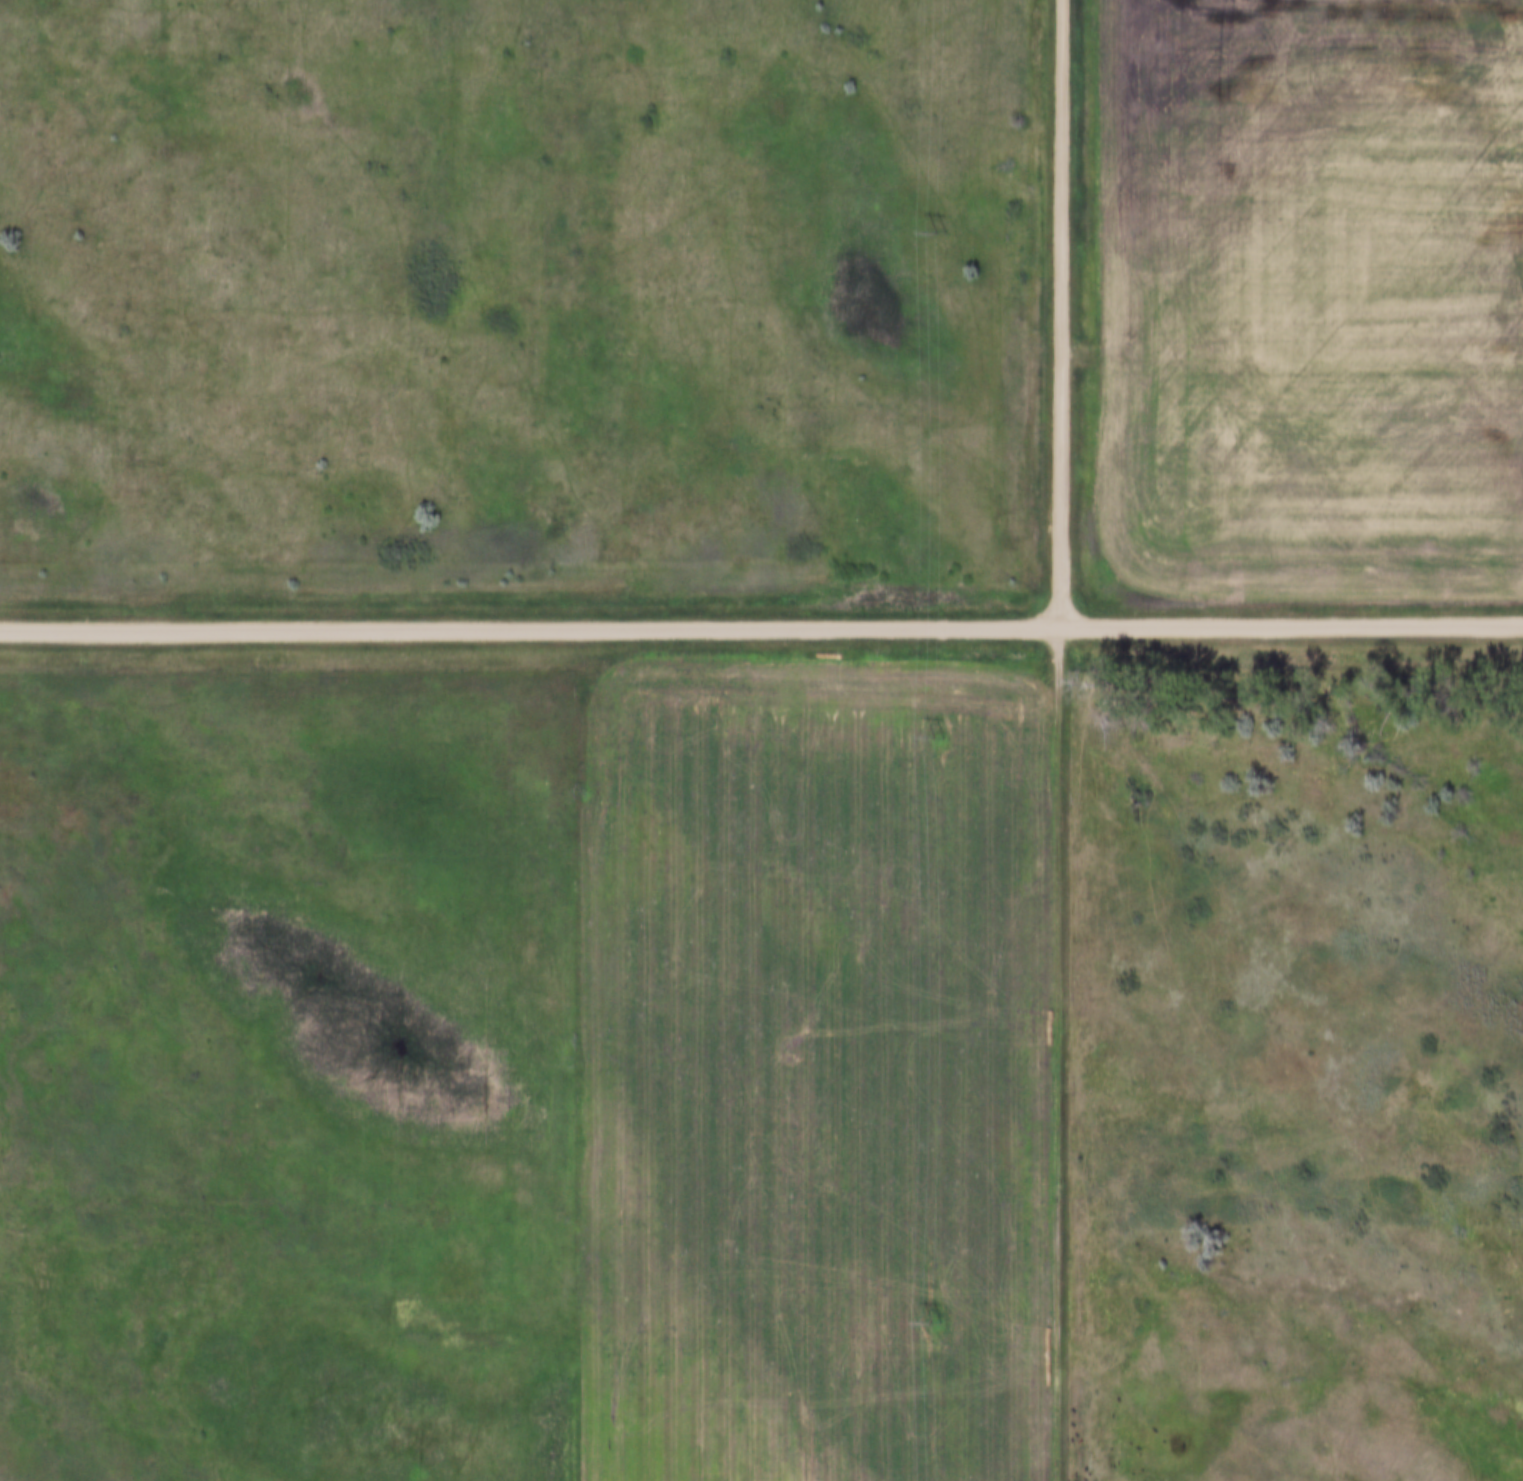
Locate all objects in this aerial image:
road: (1059, 313)
road: (761, 626)
road: (1060, 1053)

